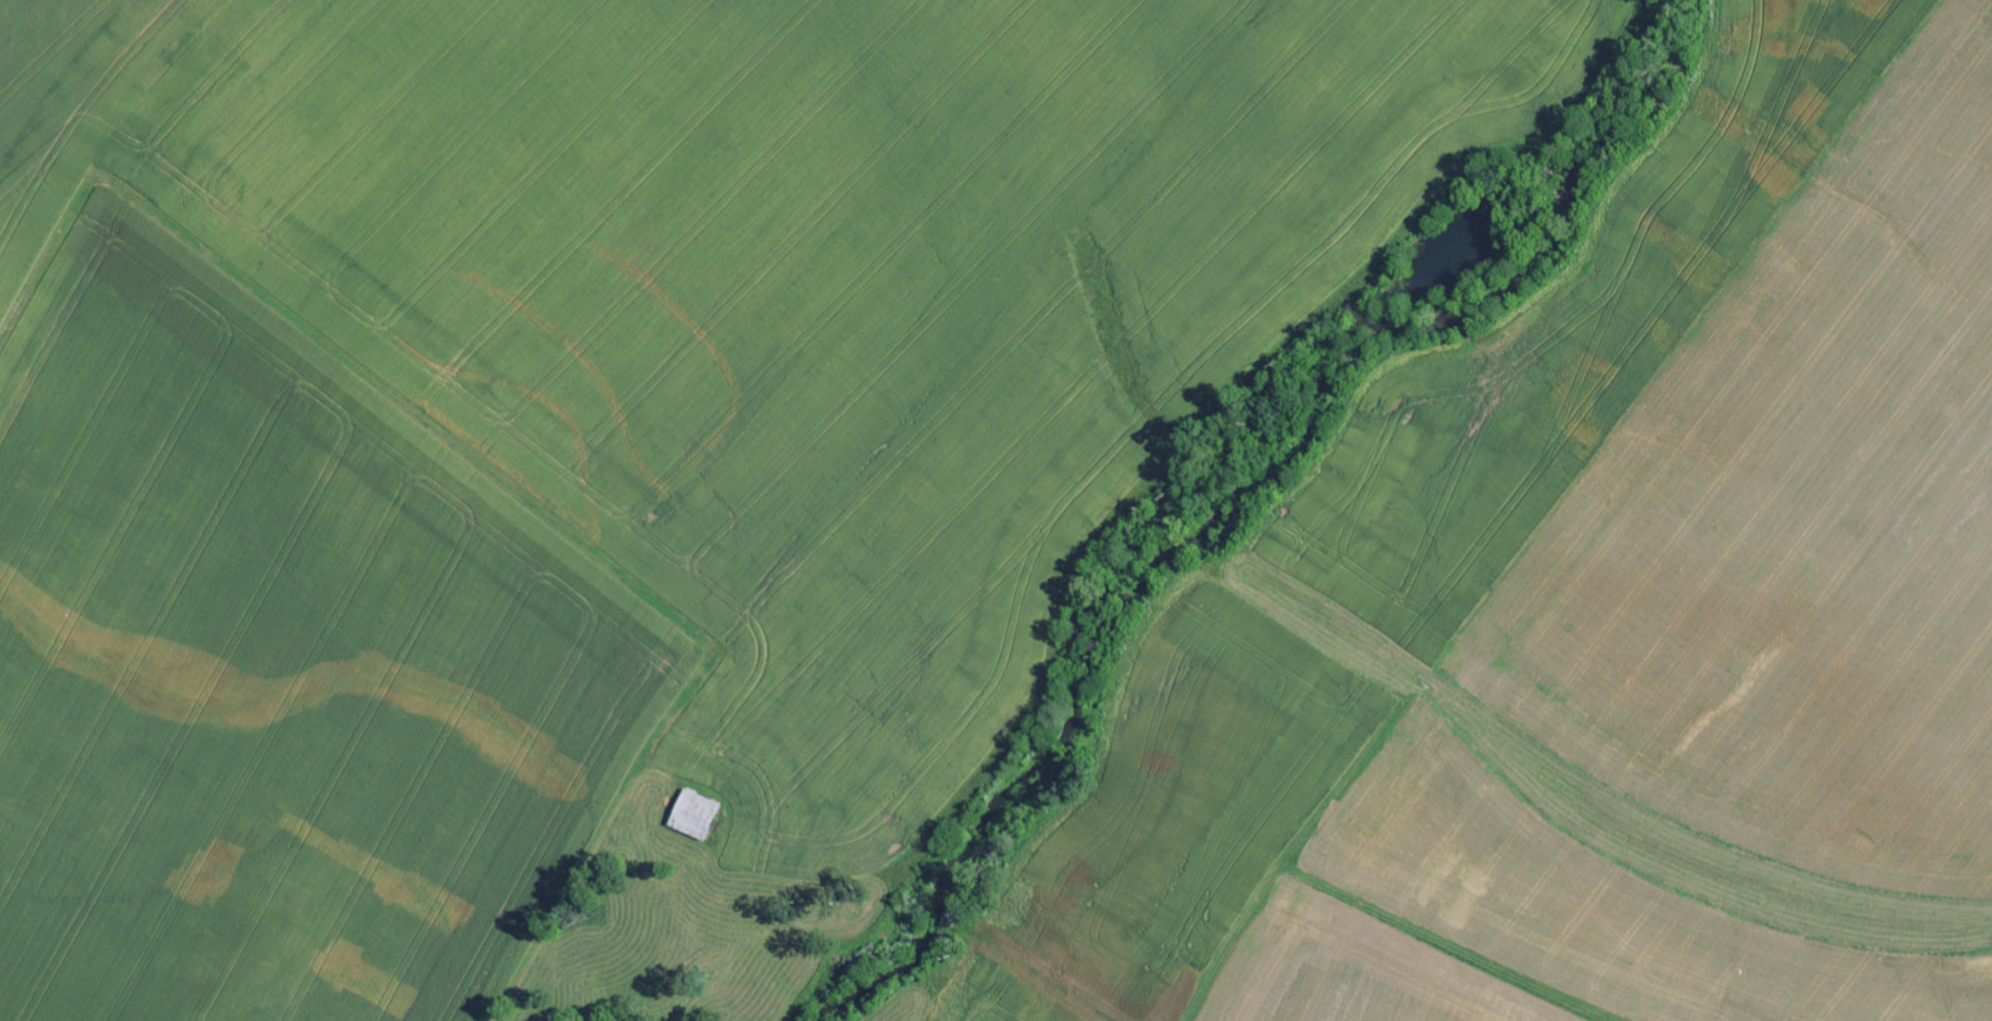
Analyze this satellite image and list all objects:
river: (1226, 494)
building: (697, 815)

